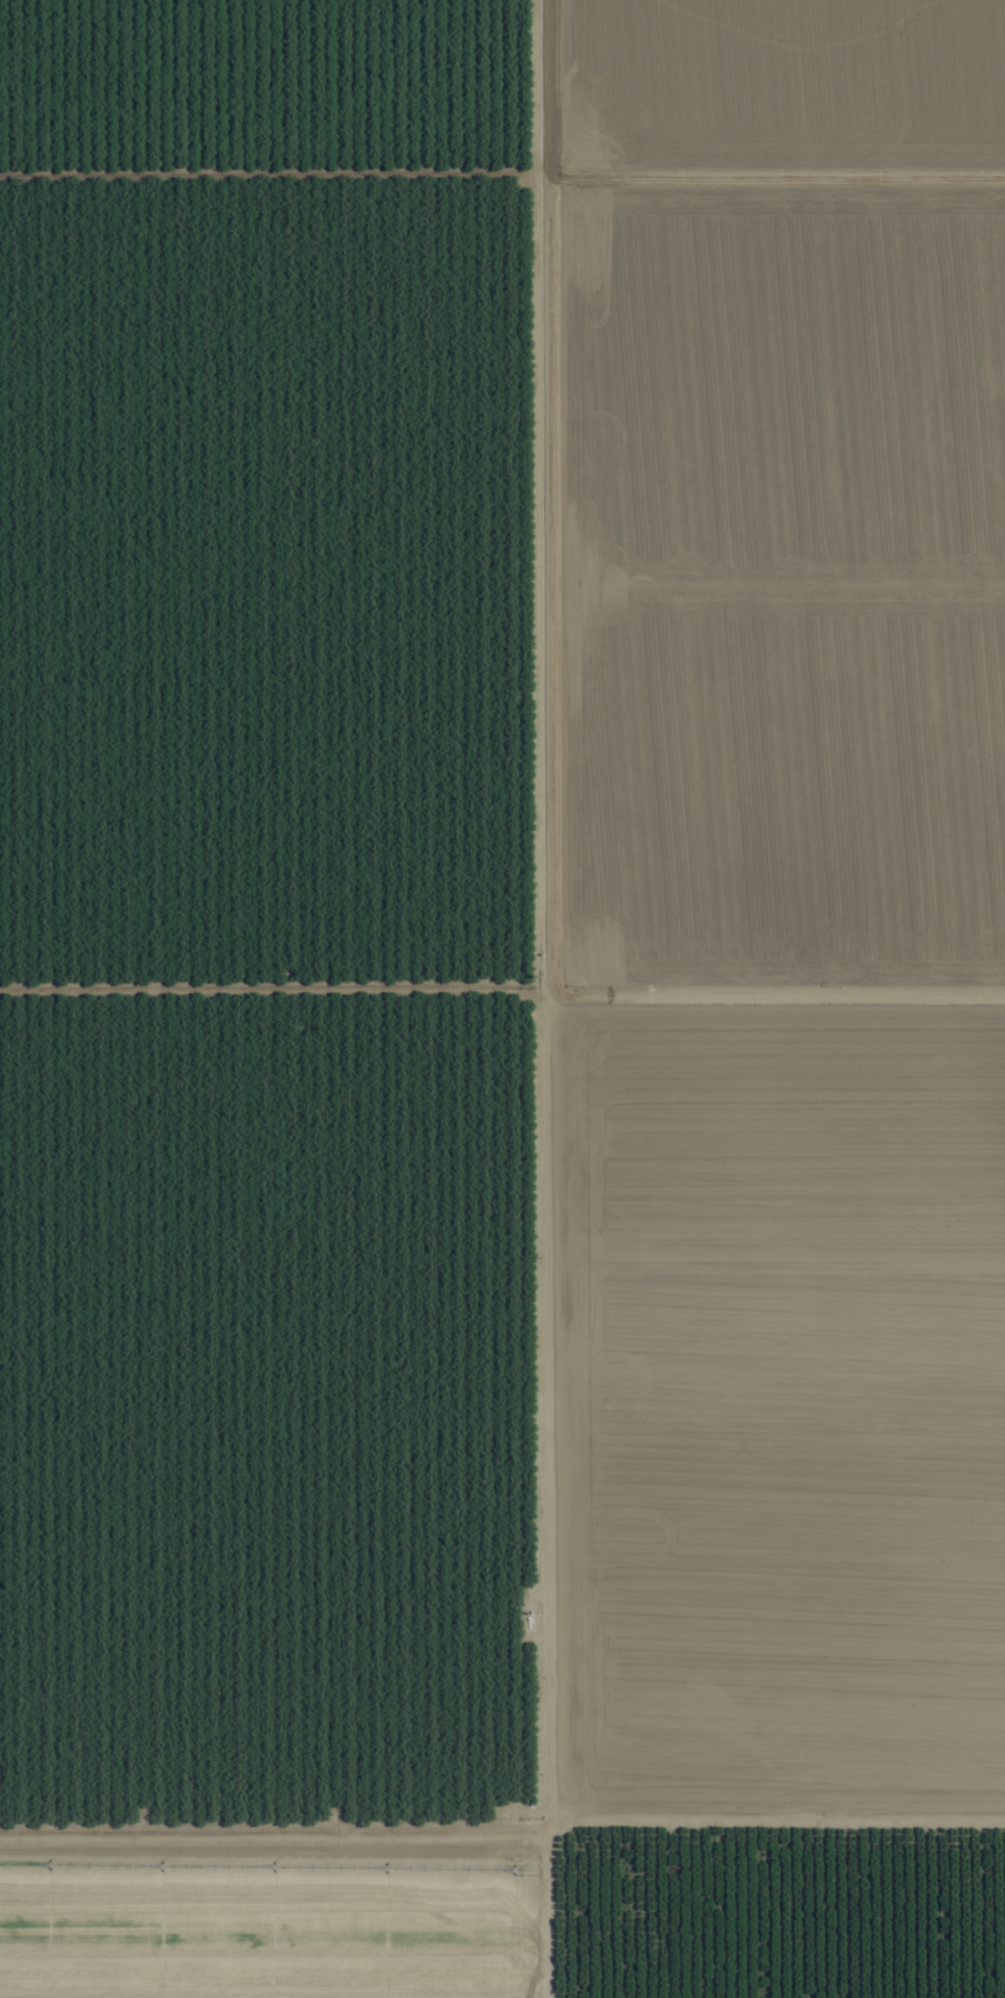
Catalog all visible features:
crop: (502, 999)
road: (522, 1251)
road: (502, 1818)

